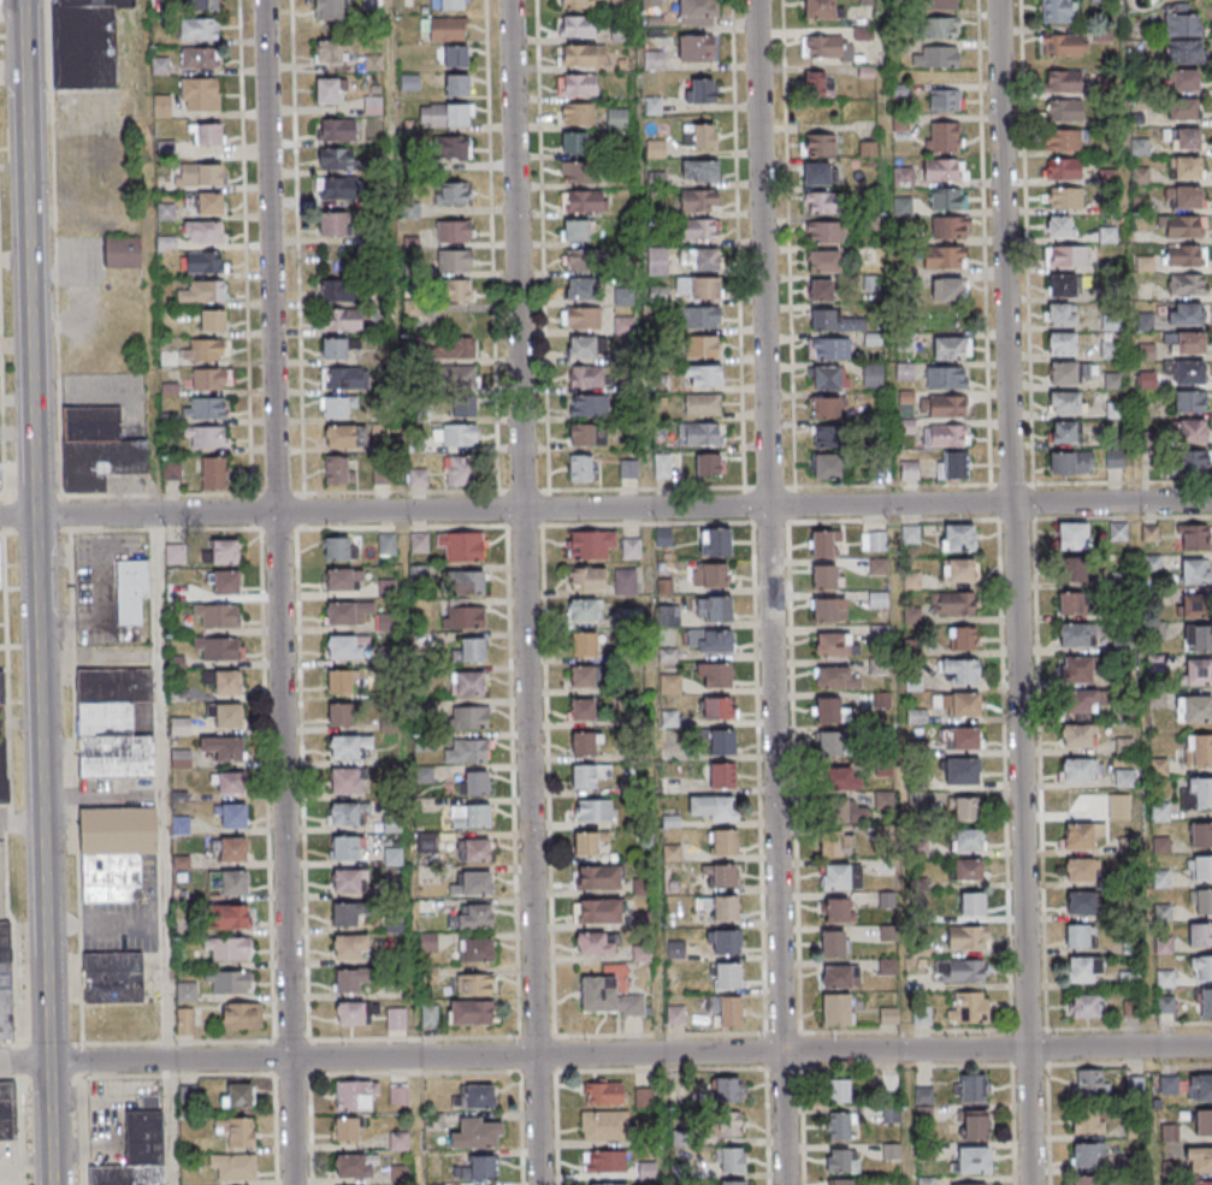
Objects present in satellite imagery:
building: (1099, 0)
building: (577, 4)
building: (205, 5)
building: (447, 5)
building: (617, 5)
building: (940, 5)
building: (820, 10)
building: (327, 11)
building: (1056, 11)
building: (696, 13)
building: (578, 25)
building: (1181, 26)
building: (940, 28)
building: (447, 29)
building: (199, 30)
building: (619, 34)
building: (85, 43)
building: (821, 45)
building: (1062, 45)
building: (696, 48)
building: (332, 51)
building: (1183, 53)
building: (456, 55)
building: (583, 55)
building: (935, 57)
building: (199, 58)
building: (654, 60)
building: (372, 61)
building: (1183, 81)
building: (1063, 82)
building: (816, 83)
building: (456, 84)
building: (575, 84)
road: (390, 88)
building: (330, 89)
building: (700, 90)
building: (200, 94)
building: (945, 100)
building: (1184, 109)
building: (1064, 112)
building: (445, 113)
building: (578, 114)
building: (616, 118)
building: (335, 130)
building: (207, 135)
building: (699, 136)
building: (942, 137)
building: (1183, 138)
building: (1063, 140)
building: (572, 143)
building: (818, 143)
building: (451, 147)
building: (337, 159)
building: (1184, 167)
building: (1063, 168)
building: (699, 170)
building: (942, 170)
building: (577, 172)
building: (818, 173)
building: (197, 176)
building: (336, 188)
building: (453, 192)
building: (1064, 197)
building: (1184, 197)
building: (947, 199)
building: (698, 200)
building: (581, 201)
building: (821, 202)
building: (207, 205)
building: (335, 224)
building: (1058, 226)
building: (1184, 226)
building: (948, 227)
building: (698, 229)
building: (574, 230)
building: (203, 231)
building: (453, 232)
building: (826, 232)
building: (1108, 235)
road: (244, 245)
road: (53, 247)
road: (297, 247)
building: (120, 255)
building: (1065, 255)
building: (1184, 255)
building: (944, 257)
building: (580, 259)
building: (700, 259)
building: (658, 261)
building: (202, 262)
building: (455, 262)
building: (823, 262)
building: (1187, 284)
building: (1063, 285)
building: (705, 288)
building: (579, 289)
building: (202, 291)
building: (337, 291)
building: (821, 291)
building: (947, 291)
building: (457, 292)
building: (1059, 314)
building: (1183, 314)
building: (698, 316)
building: (583, 318)
building: (212, 319)
building: (342, 320)
building: (834, 322)
building: (1062, 343)
building: (1186, 343)
building: (586, 346)
building: (702, 346)
building: (335, 348)
building: (456, 349)
building: (829, 349)
building: (950, 349)
building: (1111, 349)
building: (194, 350)
building: (1063, 373)
building: (1189, 373)
building: (702, 375)
building: (873, 375)
building: (455, 377)
building: (589, 377)
building: (208, 378)
building: (344, 378)
building: (827, 378)
building: (946, 378)
building: (1113, 380)
building: (1147, 380)
building: (1064, 402)
building: (1187, 402)
building: (702, 404)
building: (589, 405)
building: (336, 407)
building: (826, 407)
building: (206, 408)
building: (463, 408)
building: (942, 408)
building: (1115, 410)
building: (1192, 431)
building: (1063, 432)
building: (700, 433)
building: (581, 434)
building: (345, 436)
building: (457, 436)
building: (827, 436)
building: (947, 437)
building: (206, 438)
building: (97, 448)
building: (1113, 458)
building: (1194, 462)
building: (708, 463)
building: (1070, 463)
building: (662, 464)
building: (828, 467)
building: (953, 467)
building: (583, 468)
building: (628, 468)
building: (171, 469)
building: (336, 469)
building: (459, 470)
building: (909, 470)
building: (212, 472)
building: (380, 476)
building: (0, 478)
building: (418, 478)
road: (160, 492)
road: (278, 492)
road: (400, 492)
road: (605, 508)
road: (154, 529)
building: (1117, 532)
building: (1149, 533)
building: (910, 535)
building: (663, 537)
building: (1072, 537)
building: (1192, 537)
building: (958, 539)
building: (715, 541)
building: (873, 541)
building: (419, 543)
building: (823, 543)
building: (386, 544)
building: (590, 545)
building: (462, 546)
building: (338, 549)
building: (632, 549)
building: (224, 551)
building: (0, 562)
building: (1153, 563)
building: (877, 567)
building: (958, 571)
building: (1074, 571)
building: (1195, 571)
building: (714, 575)
building: (823, 576)
building: (343, 580)
building: (586, 580)
building: (625, 581)
building: (225, 582)
building: (465, 582)
building: (666, 586)
building: (386, 588)
road: (36, 592)
road: (278, 592)
road: (524, 592)
road: (769, 592)
road: (1016, 592)
building: (952, 605)
building: (1069, 605)
building: (1194, 605)
building: (132, 606)
building: (714, 609)
building: (829, 610)
building: (584, 611)
building: (347, 612)
road: (96, 615)
building: (219, 615)
building: (462, 617)
building: (1072, 636)
building: (1198, 638)
building: (709, 640)
building: (962, 640)
building: (581, 644)
building: (835, 645)
building: (348, 647)
building: (217, 648)
building: (472, 650)
building: (960, 671)
building: (1076, 671)
building: (1199, 673)
building: (714, 675)
building: (581, 676)
building: (836, 679)
building: (227, 681)
building: (339, 681)
building: (467, 683)
building: (669, 685)
building: (882, 701)
building: (1078, 704)
building: (959, 706)
building: (581, 709)
building: (717, 709)
building: (1196, 710)
building: (829, 711)
building: (341, 713)
building: (225, 715)
building: (473, 717)
building: (916, 717)
building: (112, 722)
building: (1077, 737)
building: (2, 739)
building: (960, 740)
building: (585, 742)
building: (722, 743)
building: (832, 745)
building: (344, 747)
building: (224, 748)
building: (467, 751)
building: (1199, 752)
building: (1081, 771)
building: (962, 772)
building: (589, 775)
building: (721, 776)
building: (840, 780)
building: (345, 781)
building: (231, 783)
building: (473, 783)
building: (1198, 794)
building: (711, 807)
building: (963, 810)
building: (593, 811)
building: (843, 812)
building: (232, 814)
building: (344, 814)
building: (469, 816)
road: (20, 823)
building: (1080, 835)
building: (1200, 835)
building: (966, 841)
building: (725, 842)
building: (585, 843)
building: (830, 845)
building: (347, 847)
building: (232, 849)
building: (473, 849)
building: (114, 852)
building: (1200, 867)
parking lot: (1, 869)
building: (1078, 870)
building: (966, 871)
building: (722, 875)
building: (597, 877)
building: (840, 878)
building: (345, 881)
building: (227, 883)
building: (474, 883)
building: (1080, 902)
building: (1201, 902)
building: (971, 905)
building: (722, 907)
building: (836, 910)
building: (598, 911)
building: (348, 913)
building: (472, 917)
parking lot: (124, 918)
building: (230, 918)
building: (1200, 935)
building: (1078, 936)
building: (968, 937)
building: (726, 942)
building: (833, 943)
building: (596, 944)
building: (350, 948)
building: (475, 949)
building: (229, 950)
building: (1084, 968)
building: (1202, 968)
building: (959, 970)
building: (727, 976)
building: (840, 976)
building: (112, 977)
building: (1129, 979)
building: (349, 980)
building: (5, 982)
building: (229, 982)
building: (475, 984)
building: (187, 993)
building: (598, 995)
building: (1206, 1001)
building: (633, 1006)
building: (1086, 1006)
building: (969, 1008)
building: (836, 1009)
building: (725, 1011)
building: (471, 1012)
building: (242, 1014)
building: (350, 1014)
building: (428, 1015)
building: (396, 1019)
building: (188, 1021)
road: (605, 1054)
building: (1087, 1083)
building: (1169, 1084)
building: (970, 1088)
building: (1200, 1088)
building: (726, 1090)
building: (839, 1092)
building: (603, 1094)
building: (237, 1095)
building: (397, 1095)
building: (355, 1096)
building: (475, 1096)
building: (643, 1097)
building: (924, 1102)
building: (6, 1112)
building: (1204, 1121)
road: (170, 1122)
building: (1087, 1122)
building: (975, 1124)
building: (607, 1125)
building: (729, 1125)
building: (838, 1126)
building: (347, 1130)
building: (238, 1131)
building: (477, 1133)
building: (398, 1140)
building: (136, 1153)
building: (1086, 1154)
building: (971, 1159)
building: (841, 1160)
building: (1200, 1160)
building: (604, 1161)
building: (731, 1162)
building: (356, 1166)
building: (233, 1167)
building: (479, 1168)
building: (646, 1173)
building: (1087, 1180)
building: (844, 1181)
building: (1201, 1183)
building: (607, 1184)
building: (731, 1184)
building: (968, 1184)

